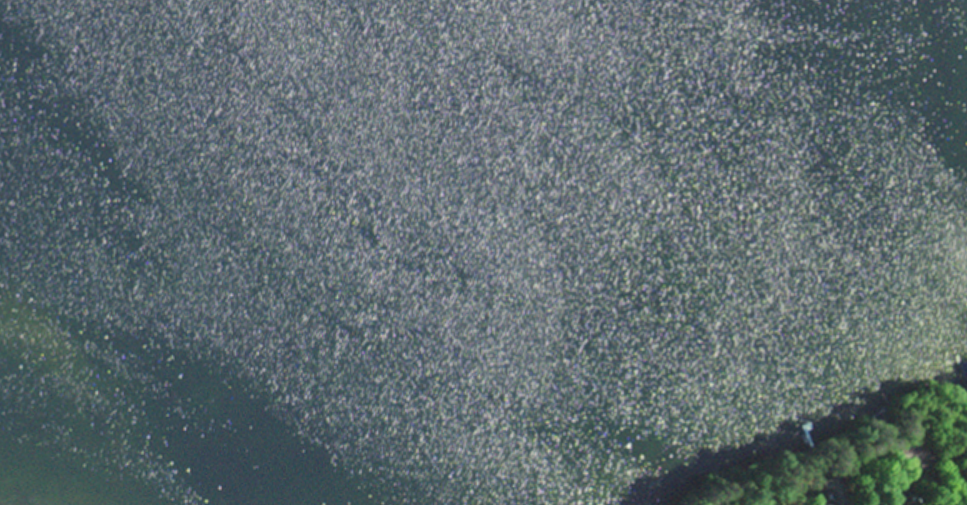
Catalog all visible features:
building: (817, 434)
building: (901, 457)
building: (825, 492)

